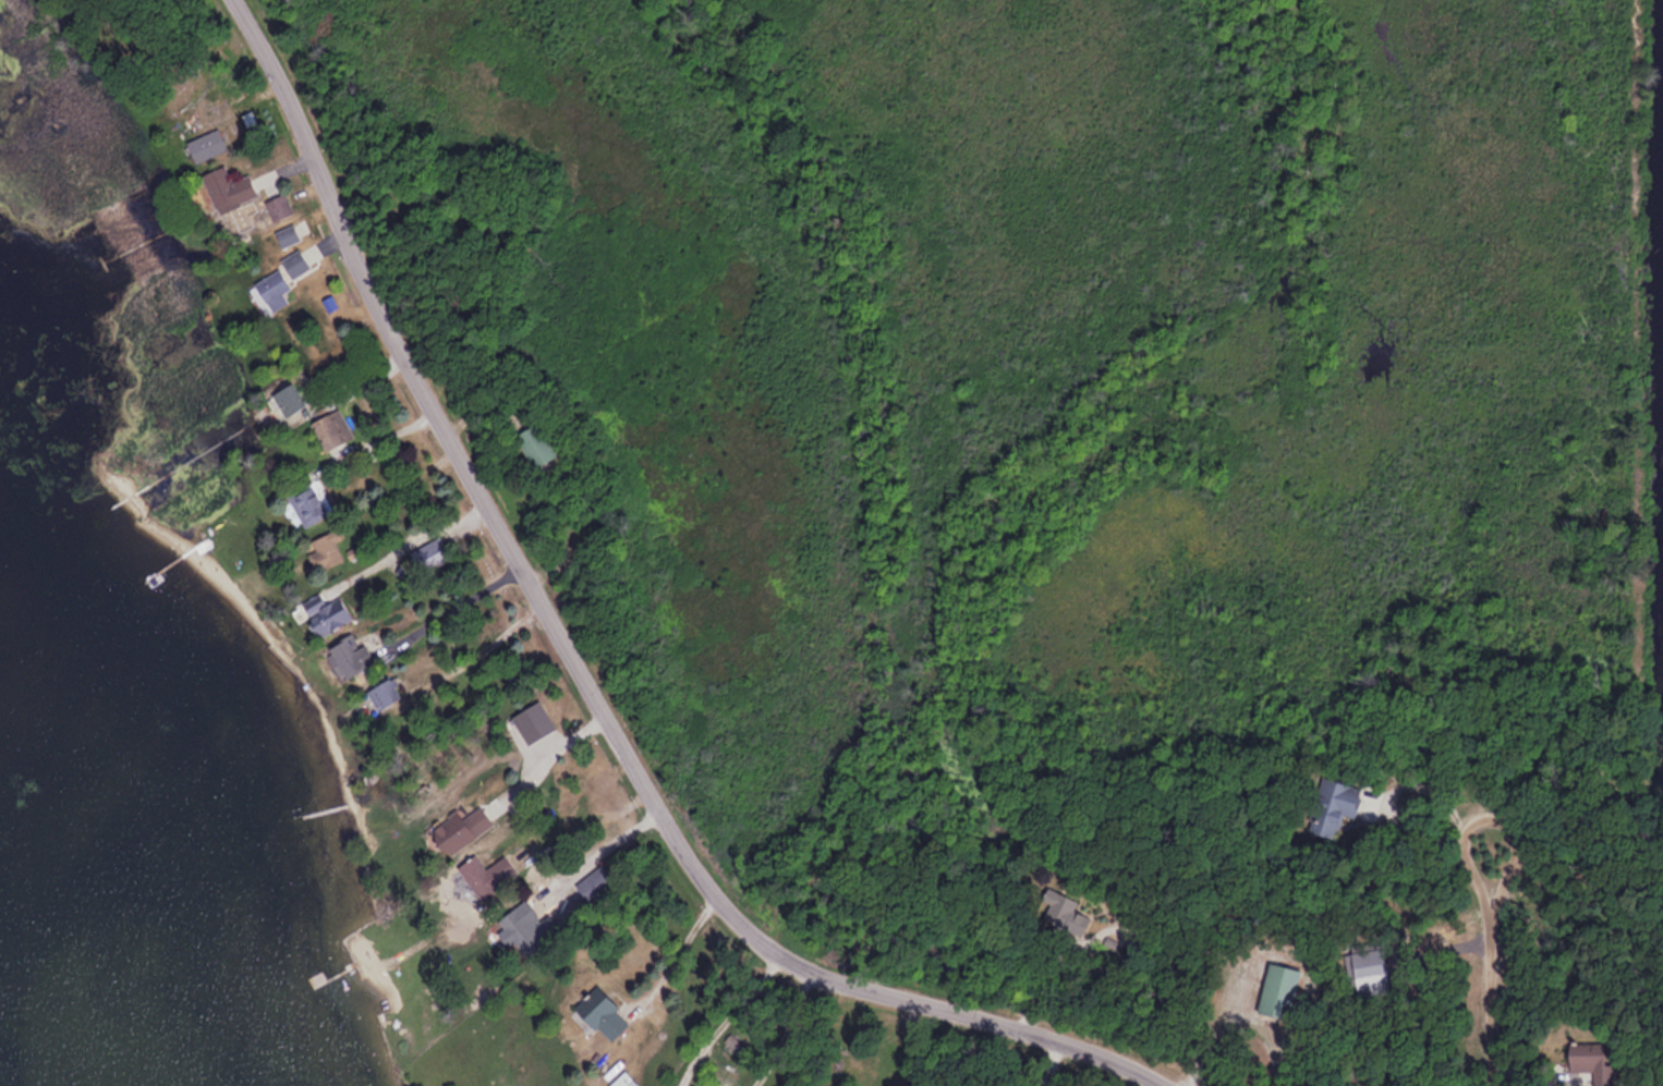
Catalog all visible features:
building: (204, 146)
building: (226, 188)
building: (276, 205)
building: (292, 263)
building: (270, 290)
road: (360, 386)
building: (284, 399)
building: (329, 429)
building: (533, 443)
road: (391, 484)
building: (308, 502)
road: (408, 542)
building: (326, 549)
building: (427, 554)
road: (448, 610)
building: (326, 618)
building: (347, 655)
road: (584, 668)
building: (380, 693)
road: (545, 754)
building: (1328, 806)
building: (457, 829)
road: (597, 847)
building: (524, 928)
road: (1492, 944)
road: (676, 954)
building: (1364, 964)
building: (1274, 989)
road: (726, 1013)
building: (602, 1017)
road: (1245, 1030)
building: (1593, 1060)
road: (1065, 1065)
building: (619, 1081)

